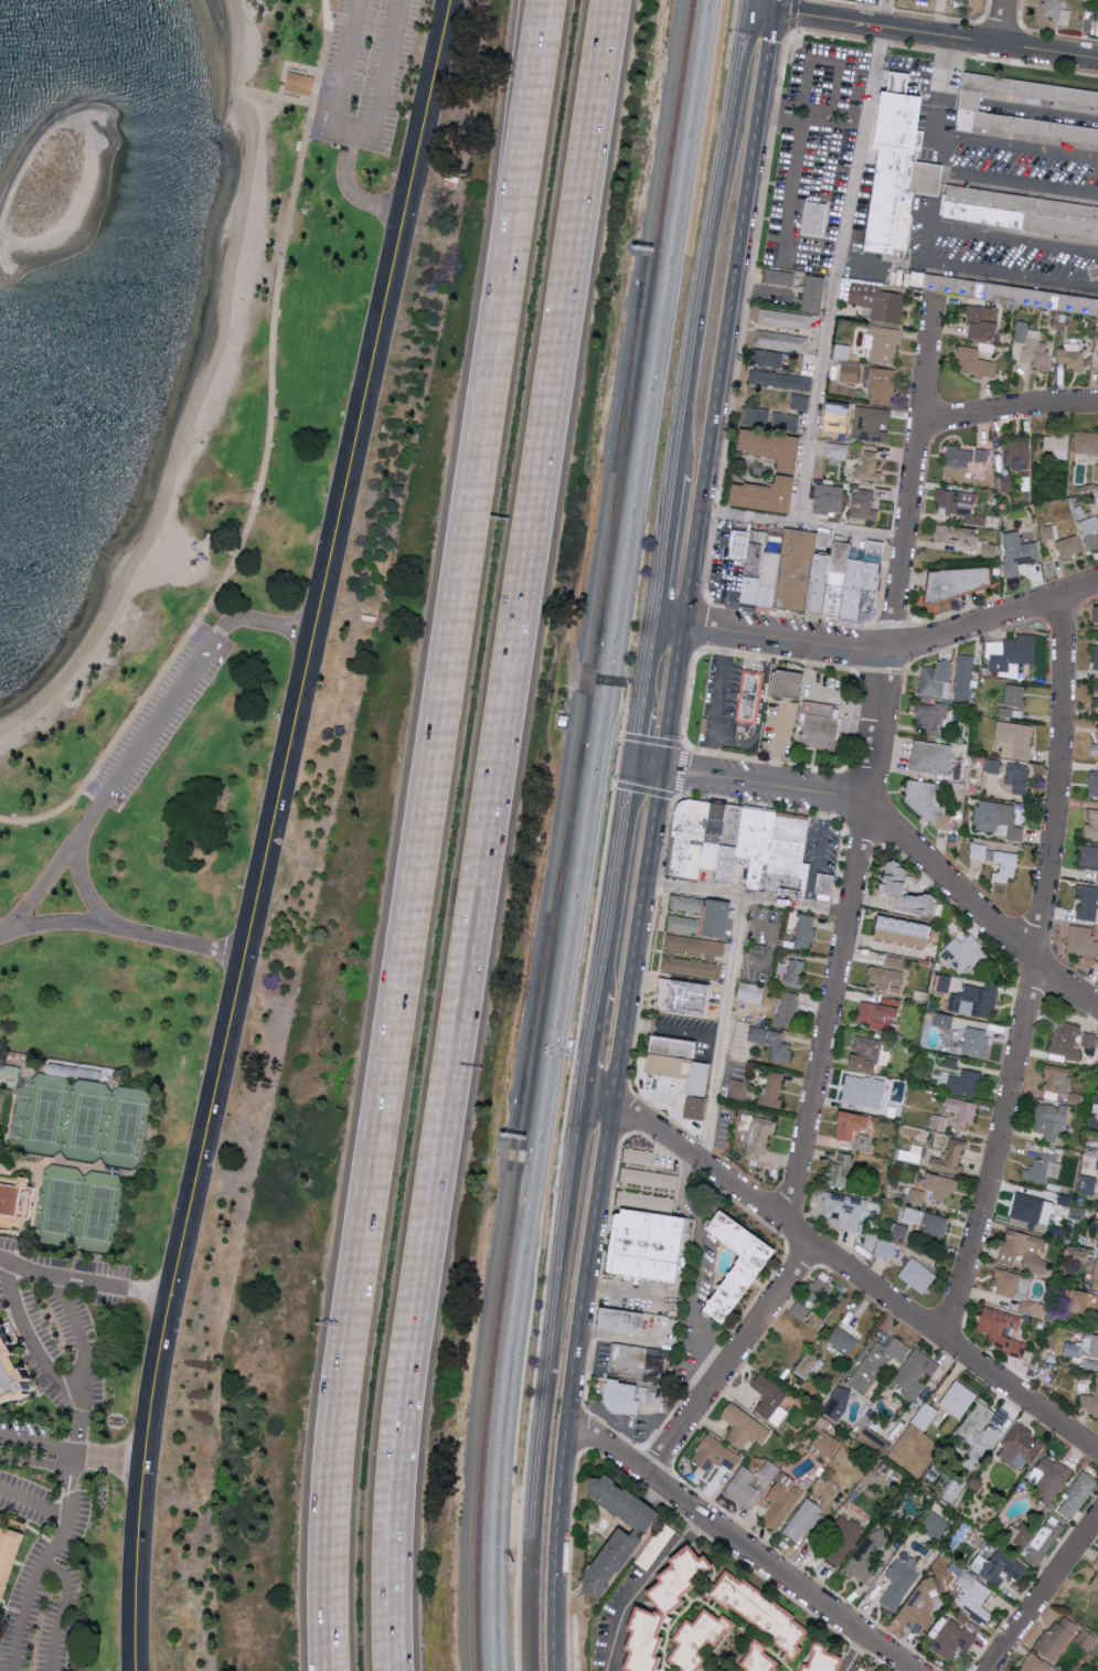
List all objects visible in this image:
road: (748, 4)
road: (777, 7)
road: (821, 9)
traffic signals: (748, 10)
building: (1057, 10)
road: (761, 11)
traffic signals: (776, 13)
road: (797, 15)
road: (793, 17)
road: (1002, 22)
building: (1097, 22)
road: (534, 24)
road: (536, 24)
road: (959, 38)
parking lot: (367, 71)
road: (348, 75)
building: (301, 83)
building: (1069, 102)
road: (1045, 113)
road: (811, 124)
road: (375, 135)
railway: (660, 141)
road: (1016, 143)
building: (896, 173)
road: (952, 174)
road: (792, 193)
building: (1022, 213)
building: (818, 221)
road: (710, 242)
road: (921, 248)
road: (880, 262)
building: (779, 277)
road: (758, 287)
building: (815, 294)
building: (1013, 296)
building: (878, 301)
road: (828, 313)
road: (725, 319)
building: (785, 319)
railway: (643, 321)
building: (983, 322)
building: (781, 341)
building: (882, 343)
building: (1032, 345)
building: (1072, 356)
building: (768, 358)
building: (976, 363)
building: (850, 373)
building: (780, 380)
building: (883, 385)
building: (800, 402)
road: (1009, 414)
building: (834, 415)
building: (768, 418)
building: (872, 424)
building: (1085, 443)
building: (1057, 445)
building: (775, 448)
building: (836, 450)
building: (1016, 454)
building: (961, 461)
road: (263, 464)
railway: (618, 464)
building: (868, 468)
building: (766, 494)
building: (829, 499)
building: (863, 505)
building: (960, 505)
road: (747, 515)
building: (1047, 532)
building: (1090, 532)
building: (958, 534)
building: (1069, 546)
building: (742, 547)
building: (875, 547)
road: (664, 549)
building: (1019, 553)
pier: (107, 554)
building: (756, 568)
building: (798, 572)
park: (209, 576)
building: (823, 576)
building: (771, 582)
building: (840, 582)
building: (961, 582)
building: (872, 593)
building: (855, 594)
building: (1097, 615)
road: (670, 626)
road: (704, 631)
road: (915, 646)
building: (1011, 651)
building: (1096, 656)
road: (649, 668)
building: (963, 678)
building: (936, 680)
building: (785, 684)
road: (718, 688)
railway: (578, 693)
railway: (589, 693)
building: (1097, 698)
building: (747, 699)
building: (1012, 699)
road: (673, 700)
road: (757, 710)
building: (931, 716)
parking lot: (167, 722)
building: (822, 725)
building: (780, 727)
building: (1015, 739)
road: (638, 741)
road: (141, 747)
road: (775, 747)
building: (1095, 748)
building: (930, 757)
road: (707, 760)
road: (874, 767)
traffic signals: (635, 769)
road: (649, 770)
traffic signals: (663, 773)
road: (684, 776)
building: (1017, 779)
building: (1094, 784)
building: (929, 801)
building: (996, 819)
building: (1091, 827)
road: (268, 832)
railway: (582, 833)
railway: (591, 833)
road: (486, 834)
building: (692, 843)
building: (760, 845)
building: (732, 848)
road: (924, 851)
road: (815, 852)
building: (1088, 855)
building: (790, 856)
road: (413, 858)
building: (1004, 868)
building: (1097, 879)
road: (84, 882)
road: (617, 882)
building: (828, 887)
building: (907, 891)
road: (749, 898)
building: (1087, 902)
building: (687, 904)
building: (719, 919)
railway: (550, 923)
railway: (554, 923)
building: (684, 924)
road: (120, 928)
building: (806, 932)
building: (906, 933)
road: (638, 939)
building: (1081, 941)
building: (694, 945)
road: (774, 948)
building: (964, 954)
building: (691, 967)
building: (796, 973)
building: (888, 973)
road: (1034, 973)
building: (751, 992)
building: (976, 1000)
building: (686, 1001)
building: (787, 1009)
building: (880, 1015)
building: (945, 1019)
road: (673, 1032)
road: (722, 1033)
building: (976, 1041)
building: (771, 1042)
building: (1065, 1042)
road: (591, 1044)
building: (675, 1051)
building: (866, 1053)
building: (9, 1069)
building: (1057, 1078)
building: (966, 1083)
building: (738, 1089)
building: (774, 1089)
building: (863, 1089)
road: (598, 1100)
building: (699, 1103)
building: (962, 1110)
park: (46, 1116)
building: (1051, 1120)
building: (939, 1121)
park: (85, 1122)
building: (853, 1124)
park: (126, 1129)
building: (759, 1136)
building: (863, 1142)
building: (639, 1156)
building: (951, 1157)
building: (1044, 1167)
building: (841, 1169)
building: (649, 1178)
building: (1087, 1183)
building: (941, 1185)
building: (15, 1199)
park: (58, 1207)
building: (846, 1211)
building: (1033, 1211)
park: (98, 1214)
building: (928, 1222)
building: (899, 1232)
building: (870, 1241)
building: (885, 1248)
building: (1025, 1250)
building: (651, 1252)
building: (740, 1263)
building: (917, 1275)
building: (1095, 1276)
road: (855, 1278)
road: (84, 1281)
building: (1006, 1282)
road: (626, 1289)
building: (818, 1290)
building: (1083, 1300)
building: (1033, 1307)
road: (695, 1309)
building: (800, 1309)
building: (620, 1322)
building: (1097, 1323)
building: (1002, 1329)
building: (667, 1334)
building: (843, 1340)
building: (1090, 1344)
road: (728, 1360)
building: (628, 1361)
building: (877, 1363)
building: (807, 1365)
building: (11, 1373)
building: (916, 1373)
road: (546, 1382)
railway: (479, 1385)
railway: (488, 1385)
road: (574, 1387)
road: (70, 1394)
building: (621, 1398)
building: (958, 1398)
building: (771, 1399)
building: (838, 1402)
building: (1089, 1402)
building: (745, 1427)
building: (984, 1429)
road: (583, 1433)
building: (875, 1441)
road: (38, 1444)
road: (76, 1445)
building: (825, 1445)
building: (1021, 1445)
building: (713, 1456)
road: (108, 1459)
road: (39, 1467)
building: (769, 1469)
building: (1052, 1478)
building: (744, 1487)
building: (1078, 1494)
building: (781, 1501)
road: (33, 1502)
building: (0, 1515)
building: (806, 1520)
building: (937, 1525)
building: (622, 1531)
building: (1041, 1539)
building: (844, 1542)
road: (740, 1545)
building: (867, 1555)
building: (9, 1556)
road: (571, 1561)
building: (1096, 1563)
building: (1000, 1566)
road: (36, 1575)
building: (899, 1582)
building: (1095, 1583)
road: (643, 1588)
road: (1042, 1592)
building: (973, 1598)
building: (668, 1606)
building: (764, 1610)
road: (64, 1611)
building: (1057, 1637)
building: (701, 1638)
building: (952, 1639)
building: (1086, 1639)
road: (859, 1656)
building: (761, 1658)
building: (827, 1659)
building: (1034, 1663)
building: (863, 1669)

